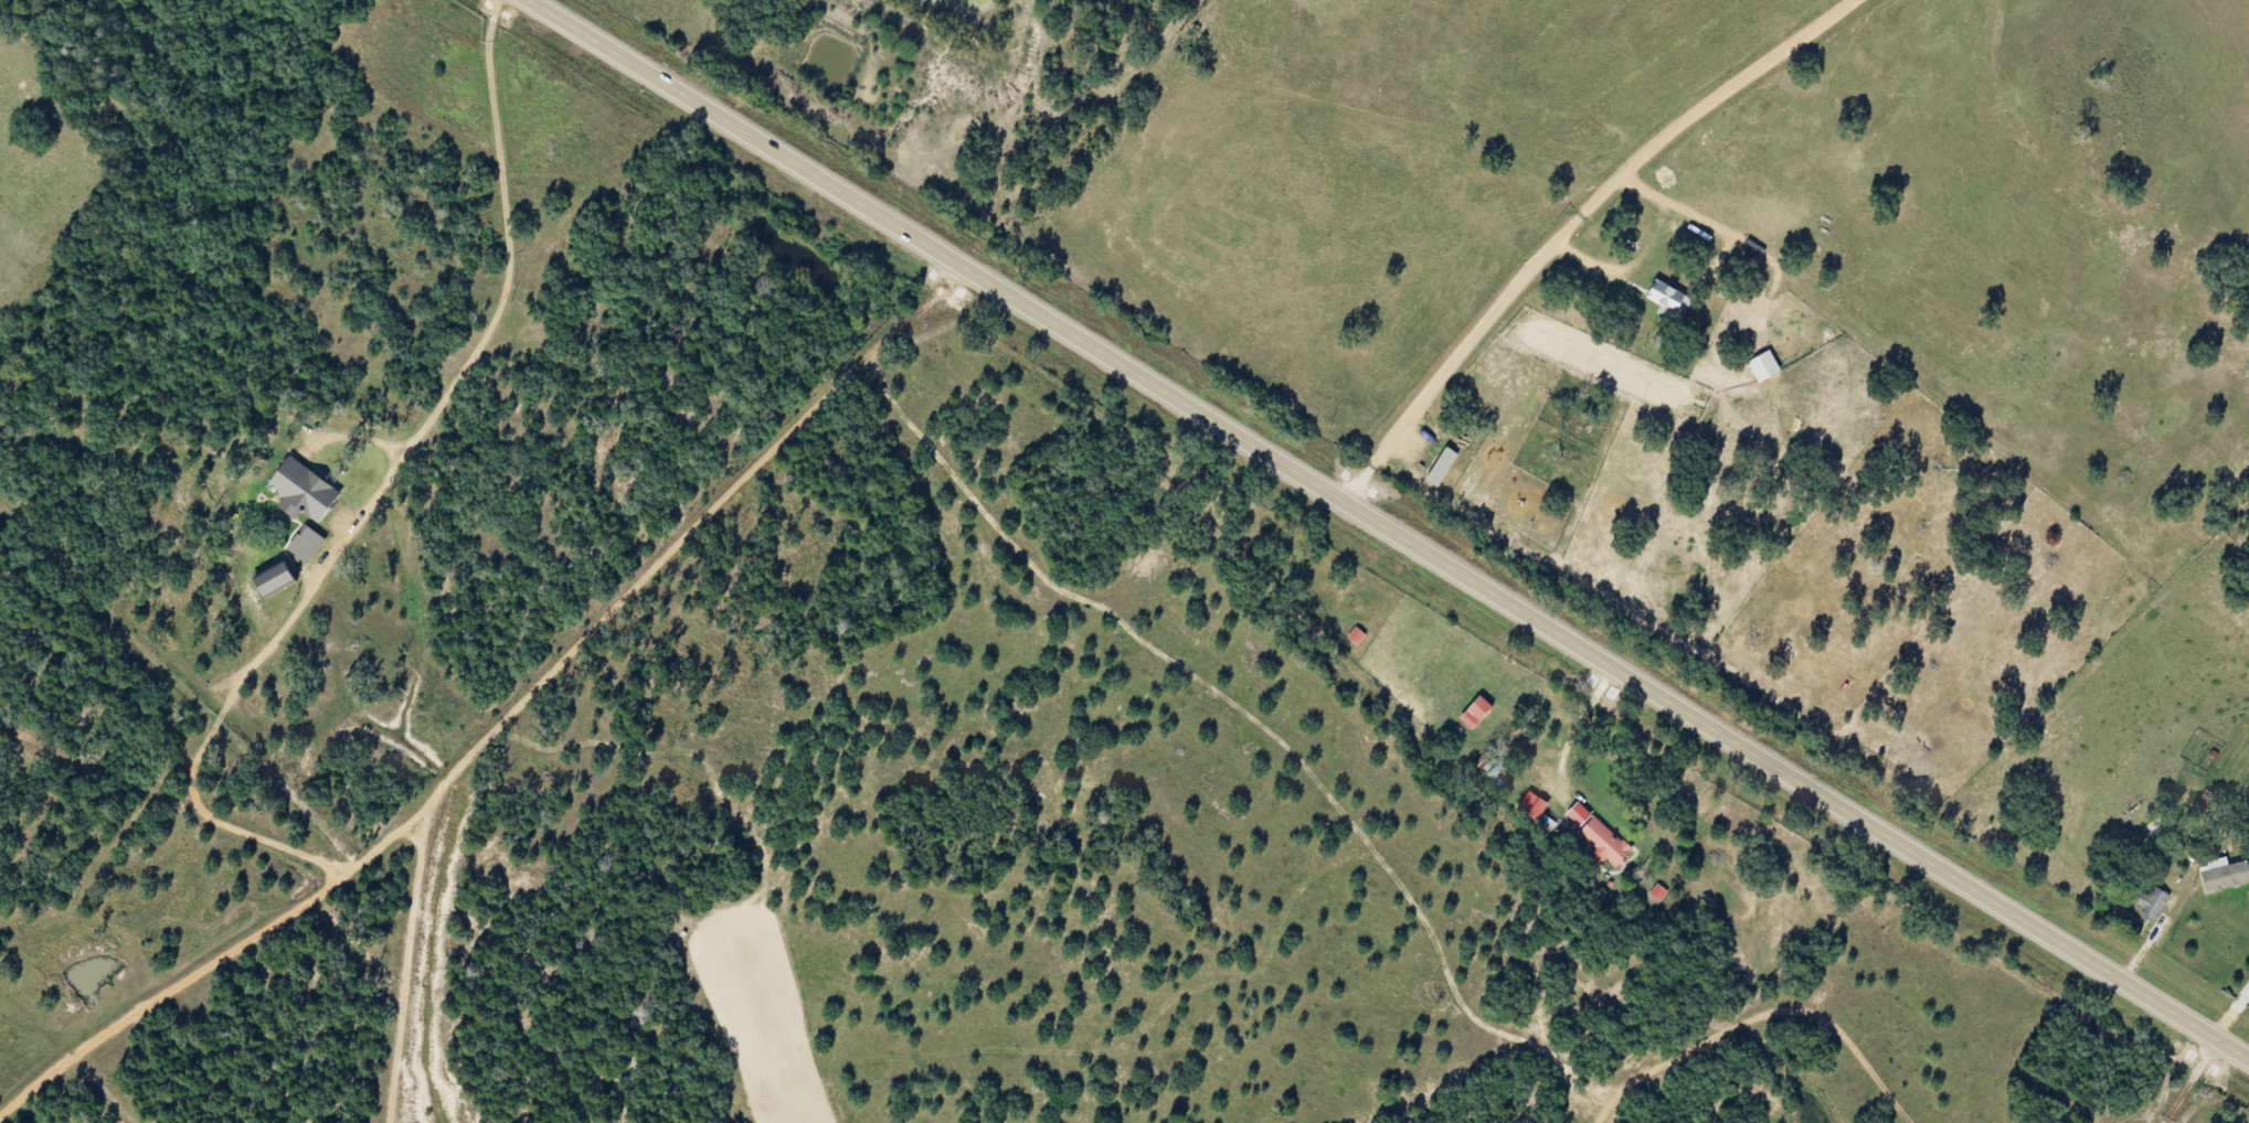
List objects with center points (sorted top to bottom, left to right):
road: (1573, 224)
building: (1673, 300)
building: (1770, 367)
building: (309, 491)
road: (1387, 525)
building: (312, 545)
building: (283, 580)
building: (1360, 637)
road: (494, 713)
building: (1483, 714)
building: (1488, 762)
building: (1539, 805)
building: (1602, 835)
building: (2226, 876)
building: (1662, 894)
building: (2156, 905)
road: (2238, 1026)

